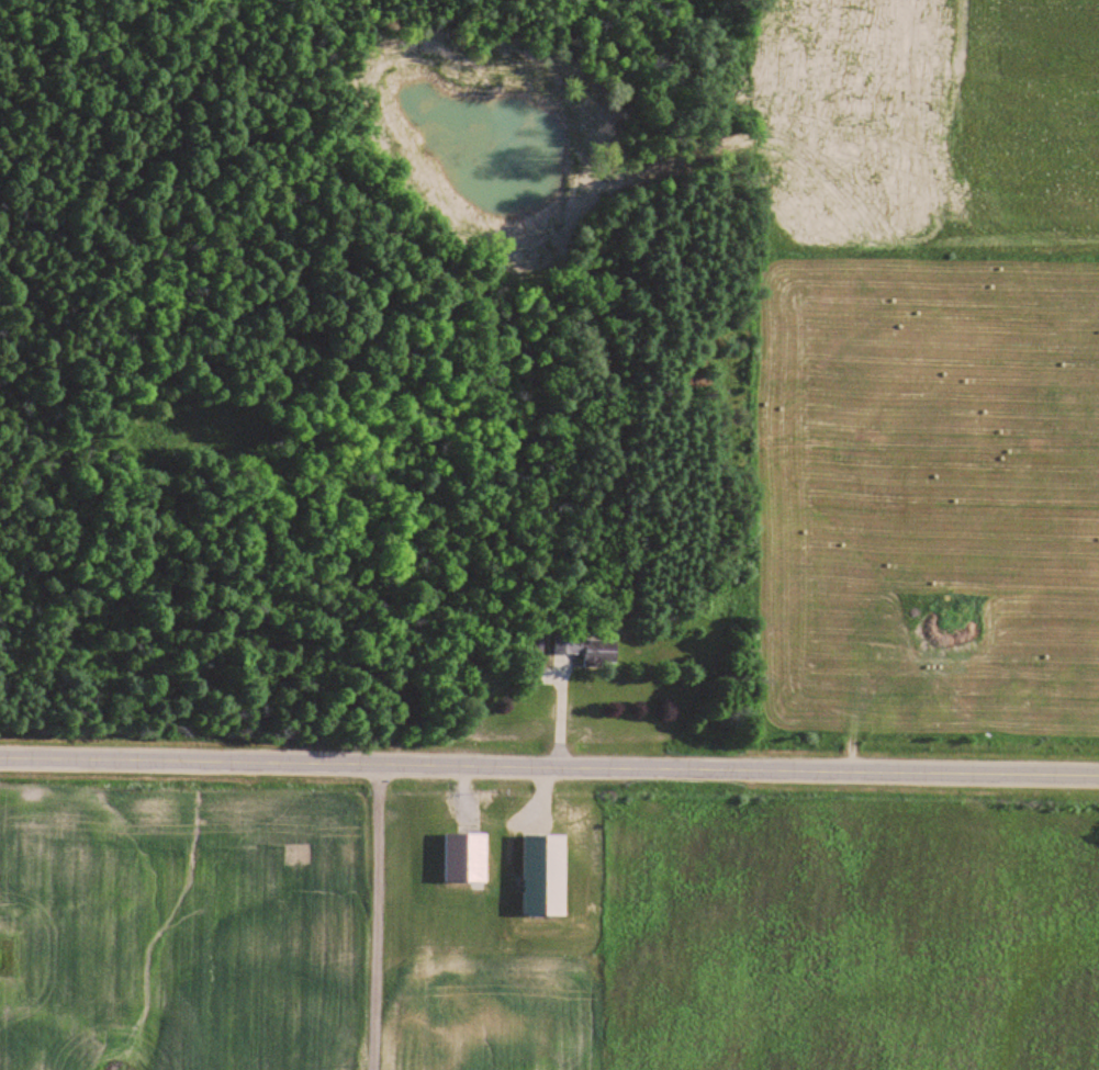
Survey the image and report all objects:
building: (588, 649)
building: (545, 676)
road: (549, 764)
building: (466, 857)
road: (377, 915)

